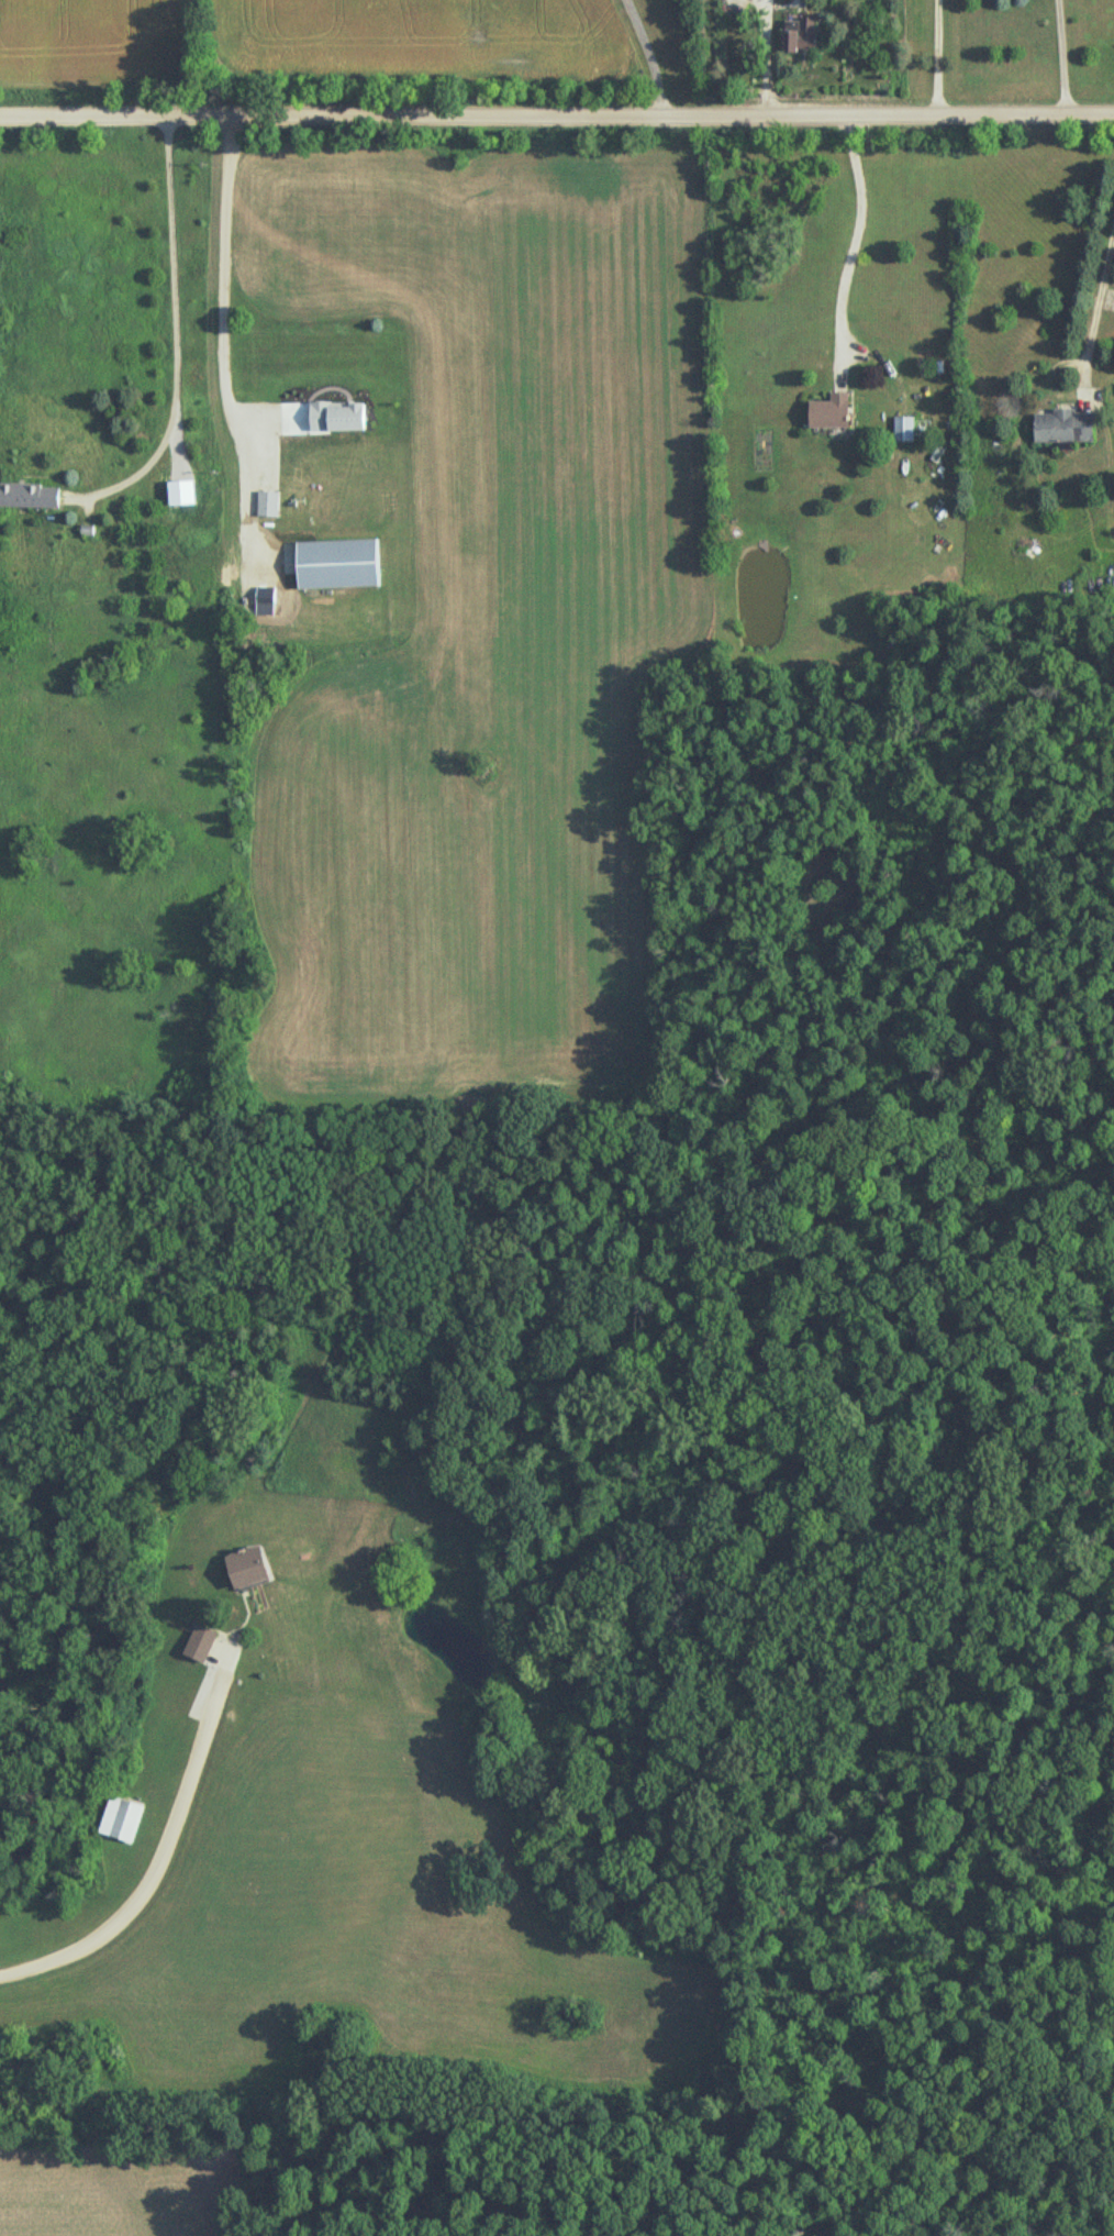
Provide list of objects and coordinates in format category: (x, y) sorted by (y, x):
building: (796, 38)
road: (649, 54)
road: (939, 55)
road: (1063, 55)
road: (557, 112)
road: (858, 225)
road: (1100, 302)
road: (176, 331)
road: (224, 342)
building: (827, 413)
building: (344, 418)
building: (1060, 428)
building: (902, 431)
building: (29, 498)
building: (267, 505)
building: (335, 565)
building: (238, 1569)
building: (197, 1645)
building: (120, 1820)
road: (161, 1858)

